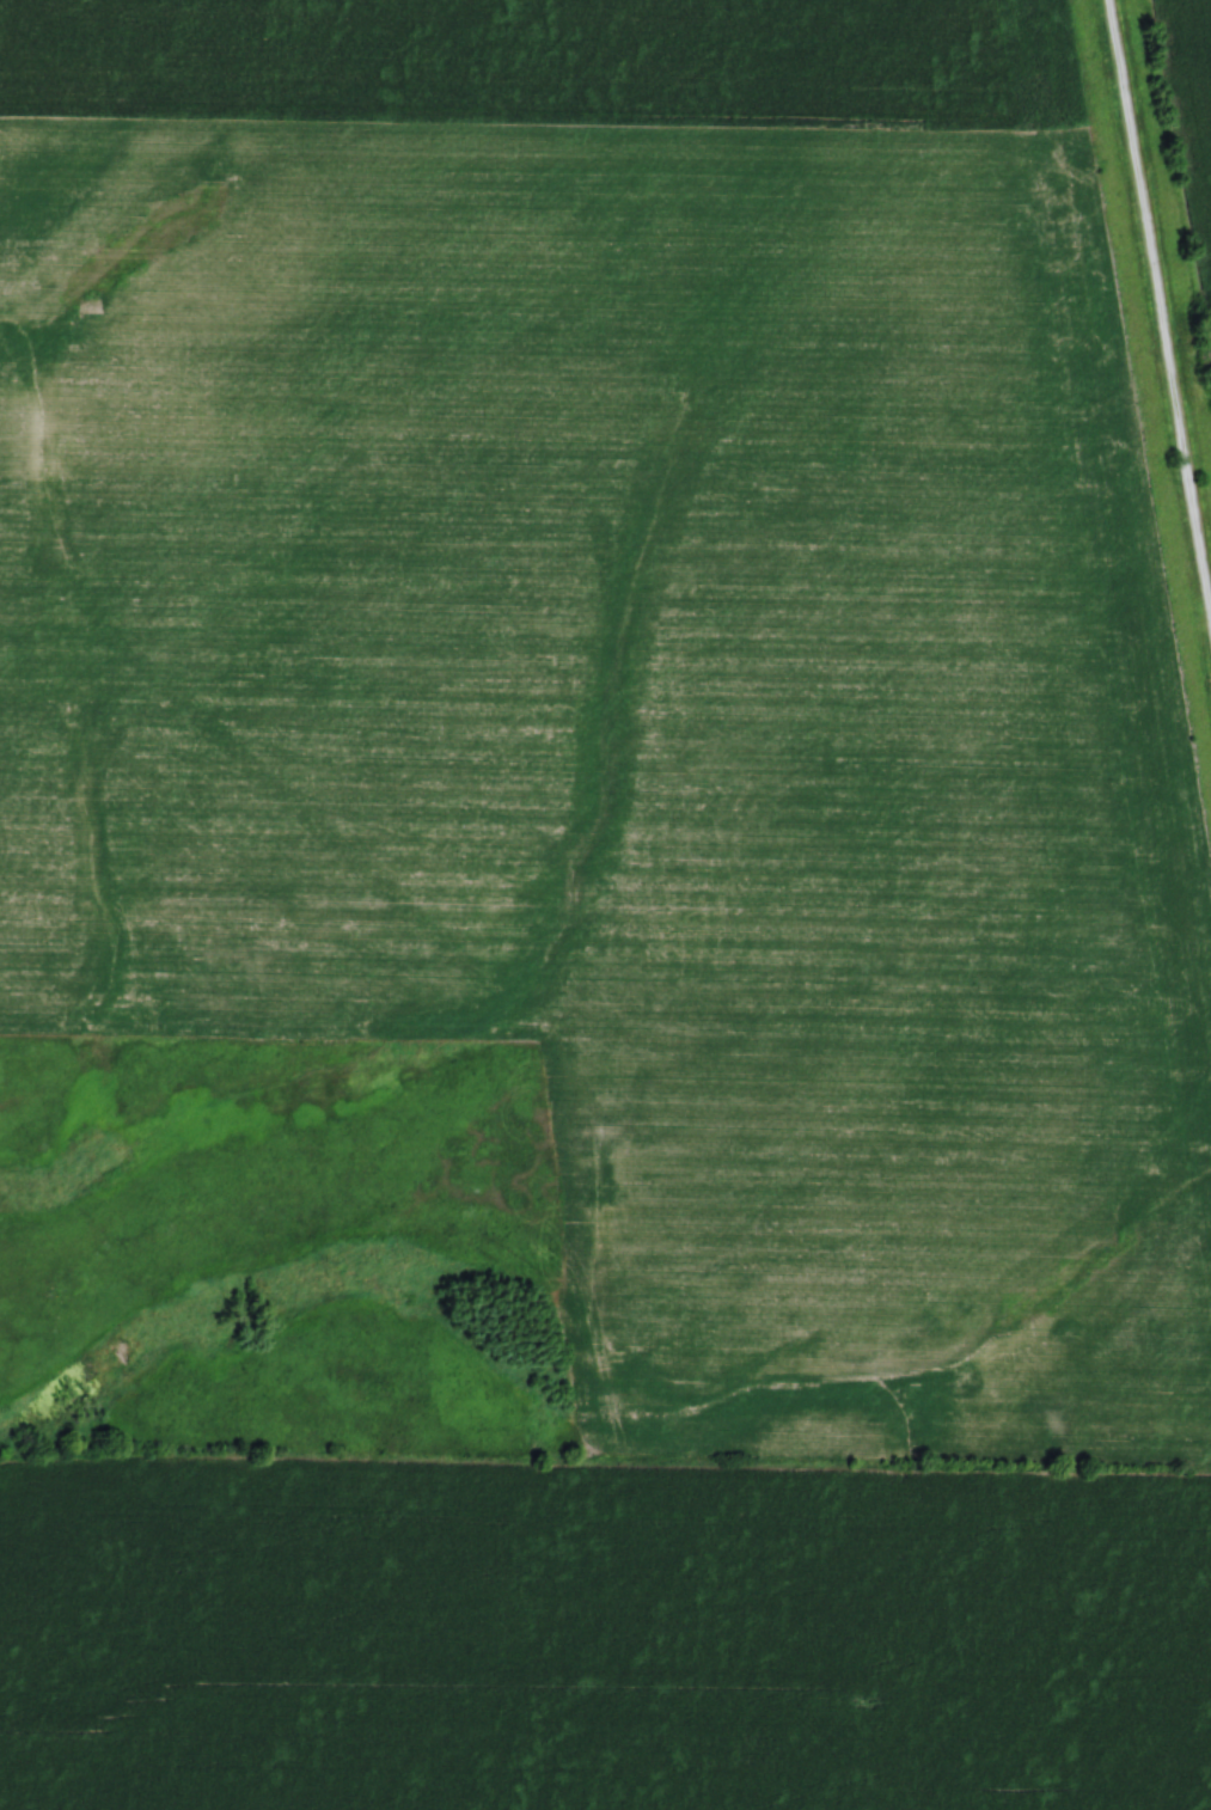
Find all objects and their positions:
crop: (1192, 115)
road: (1156, 325)

